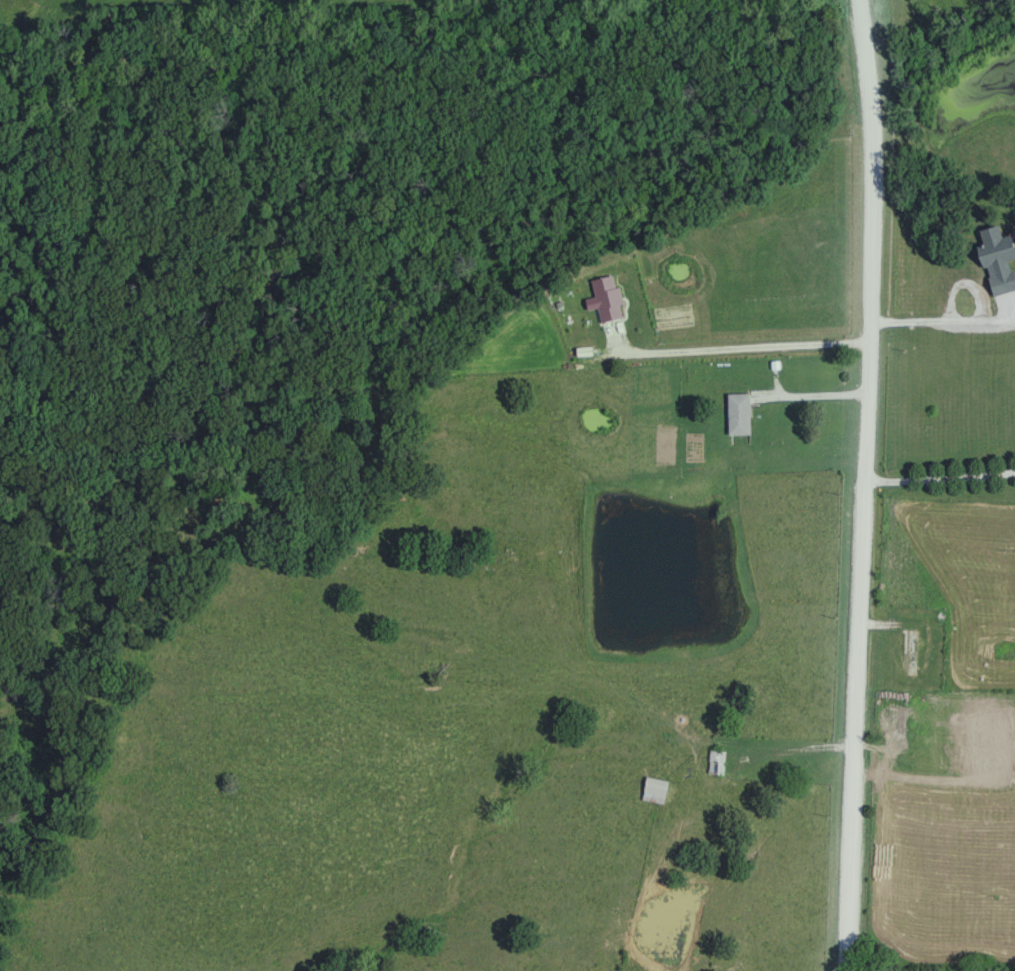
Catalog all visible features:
building: (999, 256)
road: (934, 319)
road: (736, 347)
road: (810, 396)
building: (740, 414)
road: (939, 477)
road: (862, 485)
building: (912, 652)
building: (717, 762)
building: (656, 790)

